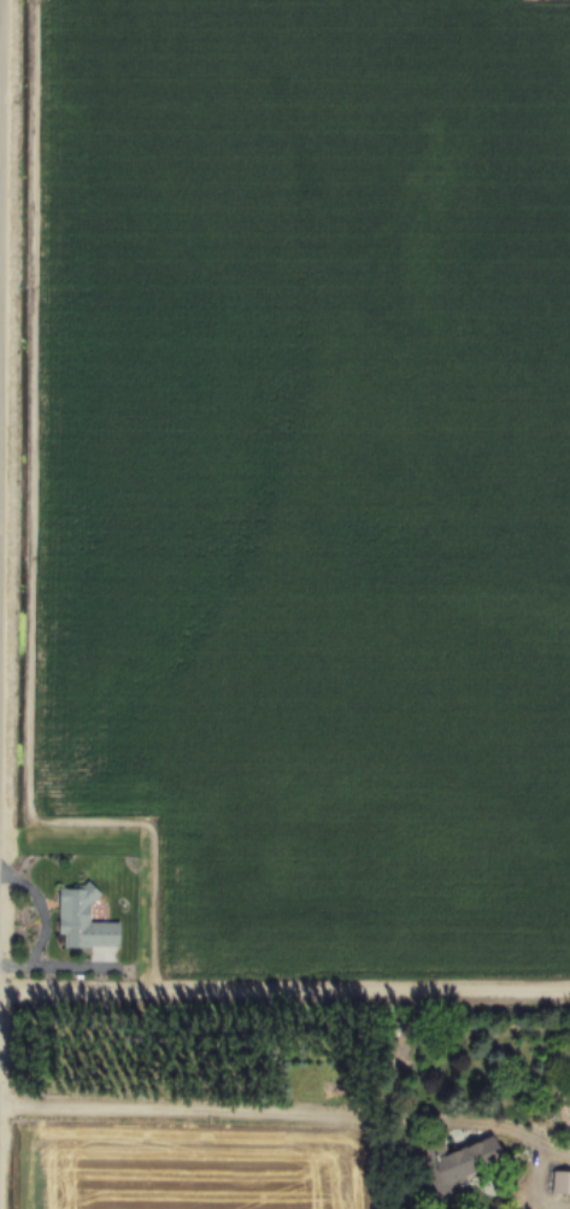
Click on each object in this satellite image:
road: (0, 141)
building: (84, 920)
road: (284, 994)
road: (252, 1116)
road: (542, 1161)
building: (459, 1162)
building: (560, 1181)

